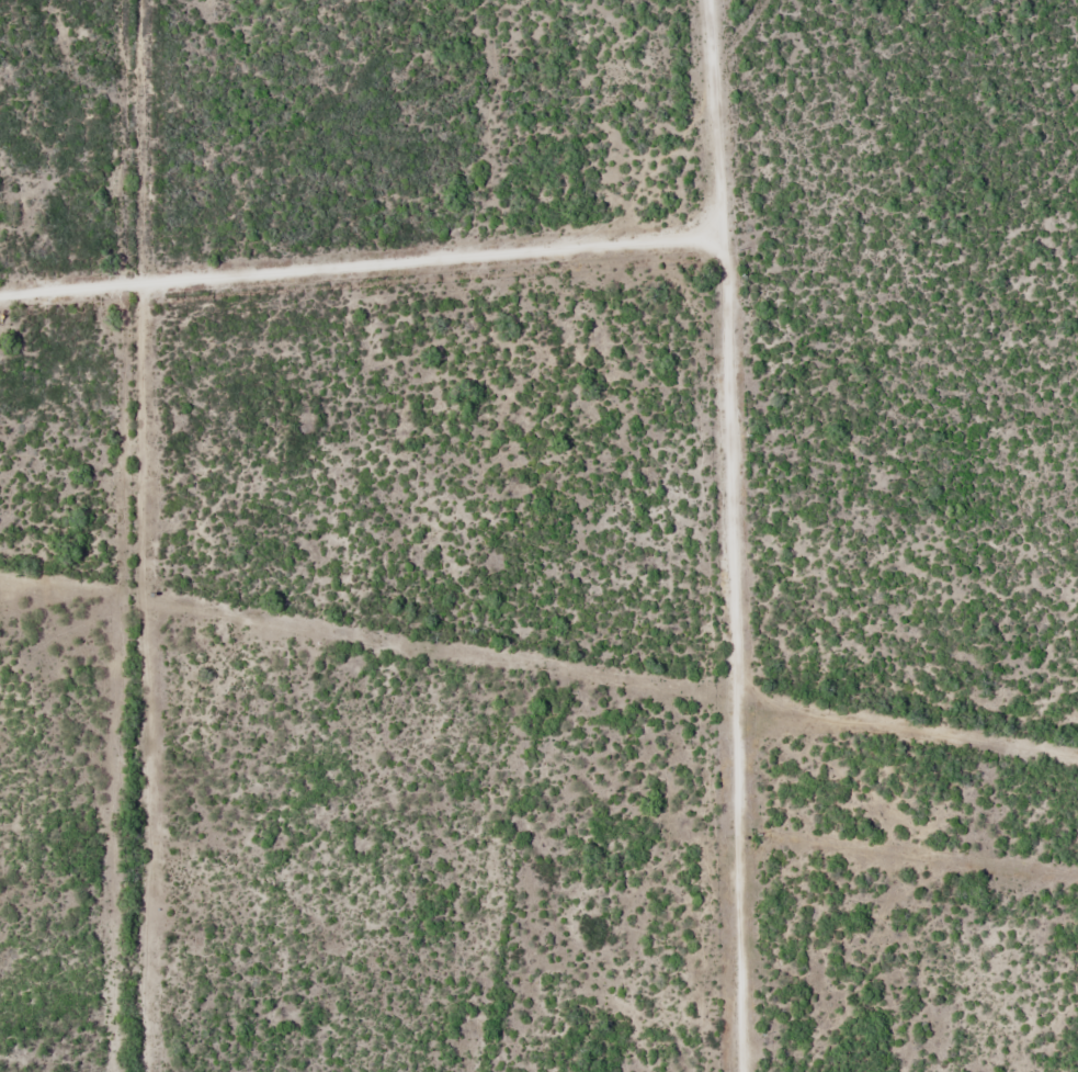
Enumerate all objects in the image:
road: (729, 535)

